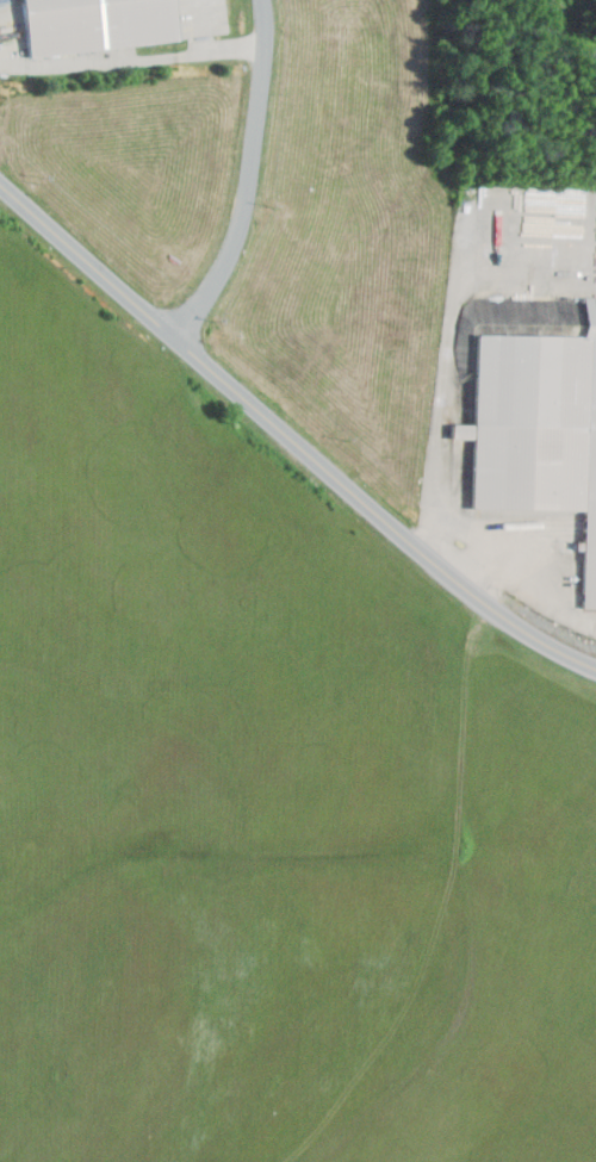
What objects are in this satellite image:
building: (99, 23)
road: (213, 46)
road: (108, 61)
road: (250, 176)
building: (585, 328)
building: (536, 428)
road: (288, 435)
road: (437, 442)
road: (513, 572)

